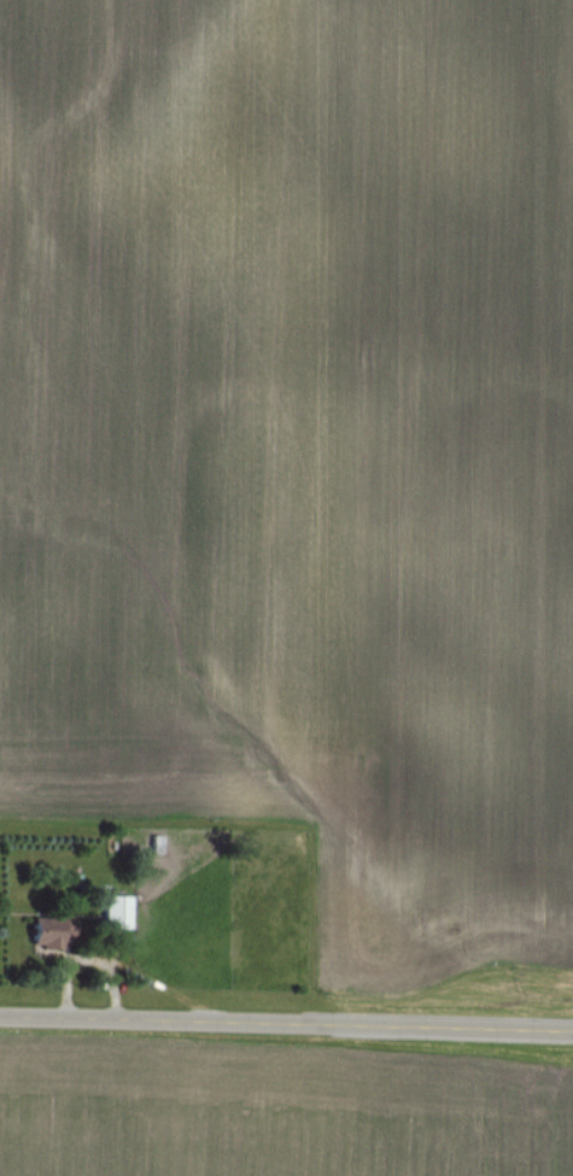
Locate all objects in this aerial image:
road: (286, 1025)

